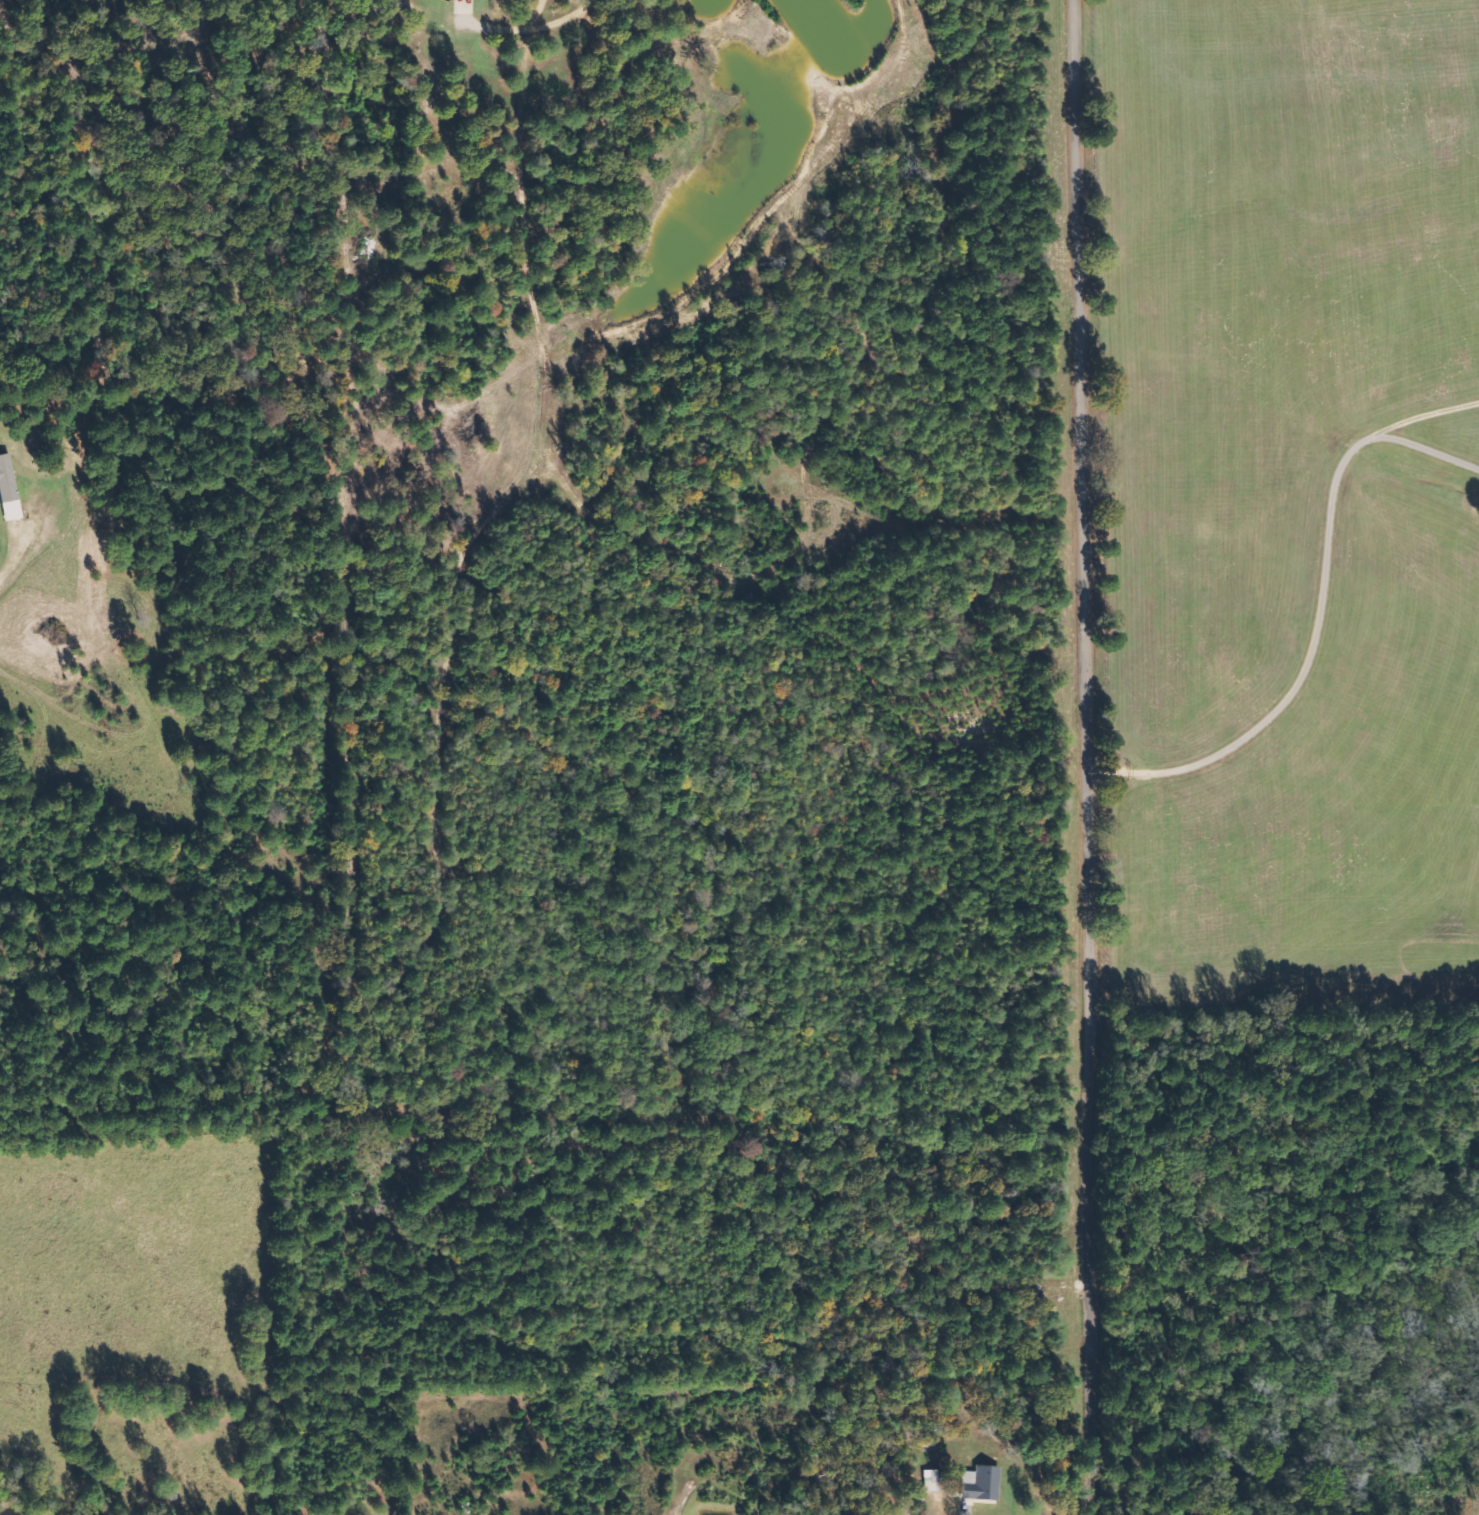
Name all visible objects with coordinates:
building: (11, 486)
road: (1099, 757)
building: (977, 1483)

